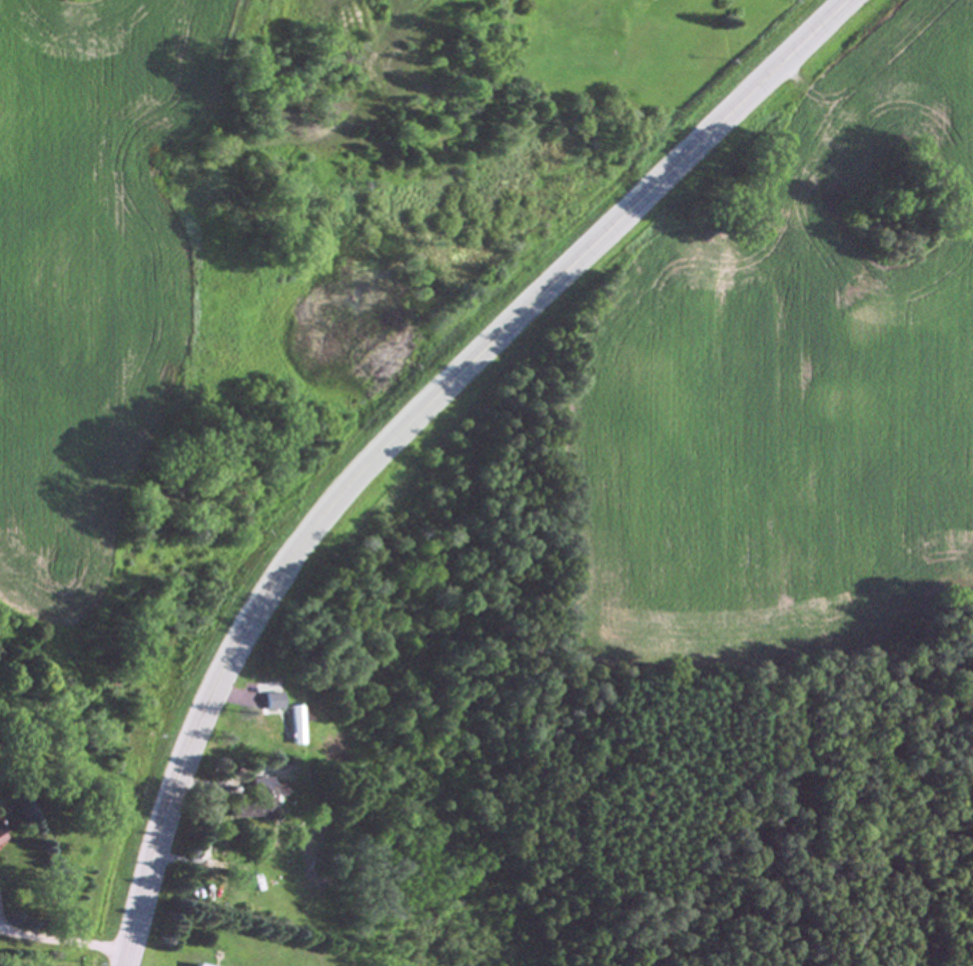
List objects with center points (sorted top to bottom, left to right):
road: (403, 428)
building: (273, 702)
building: (296, 726)
building: (256, 802)
building: (0, 835)
road: (200, 857)
road: (68, 940)
building: (197, 965)

